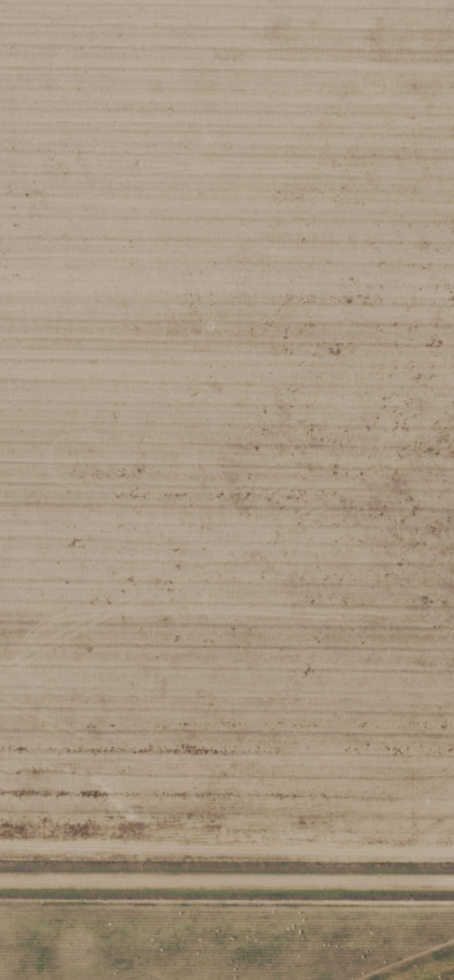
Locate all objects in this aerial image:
road: (227, 882)

